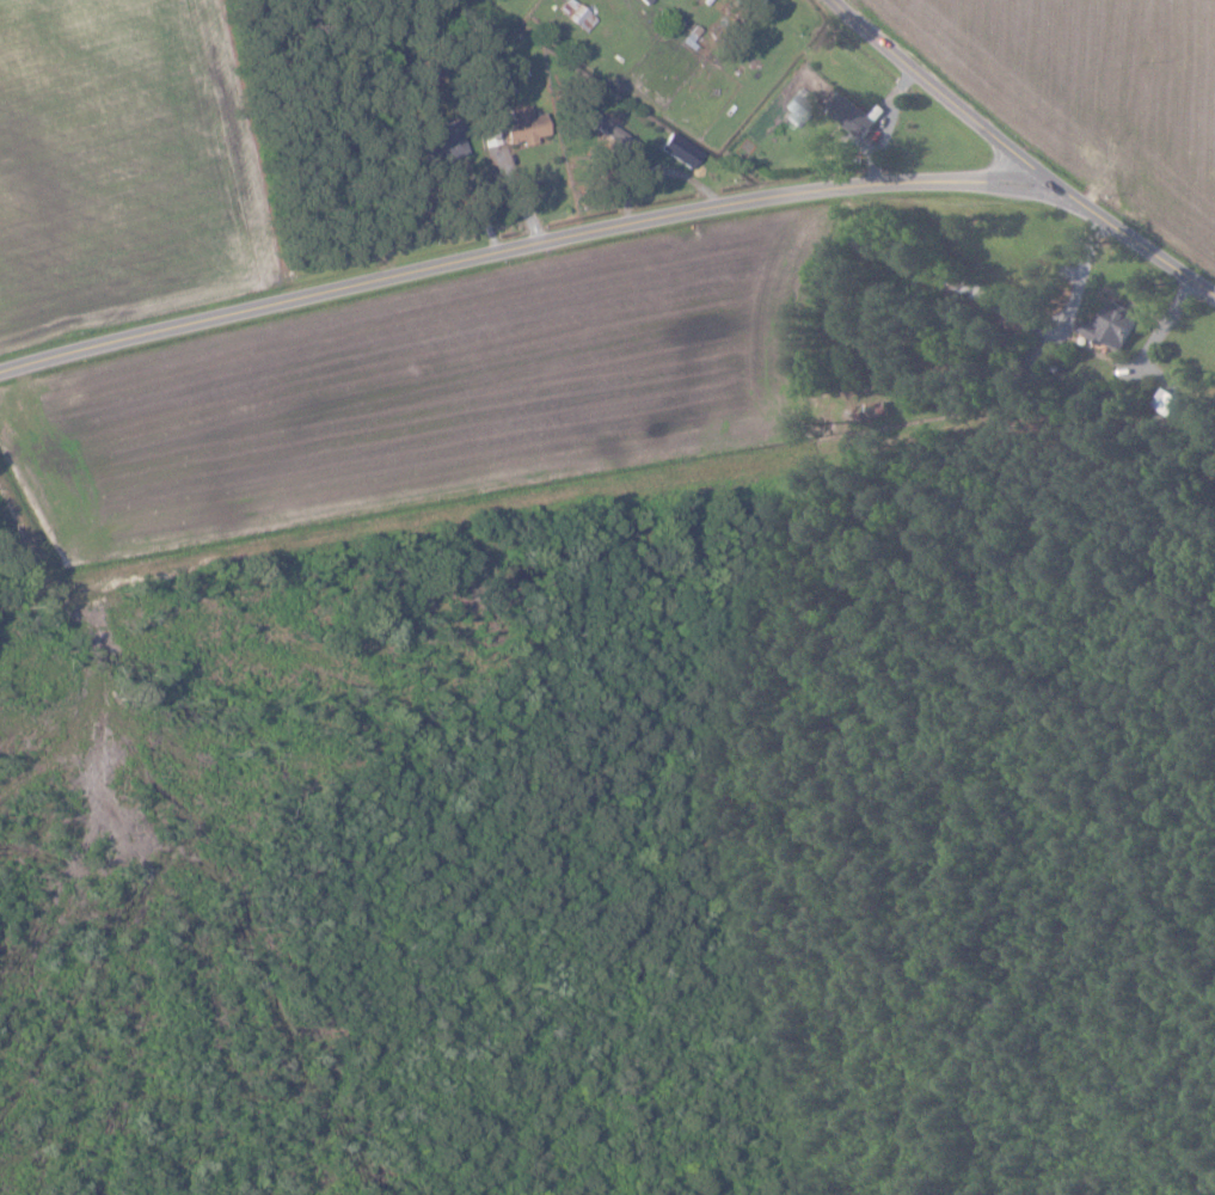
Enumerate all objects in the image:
road: (955, 88)
building: (799, 105)
building: (524, 125)
building: (491, 136)
building: (447, 145)
building: (681, 149)
road: (616, 228)
building: (1116, 325)
building: (1178, 405)

